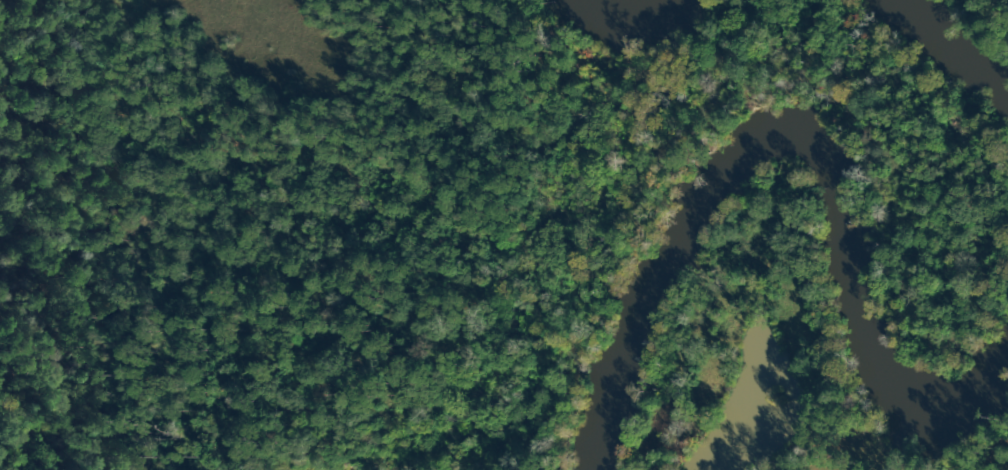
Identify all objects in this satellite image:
river: (961, 46)
river: (796, 129)

